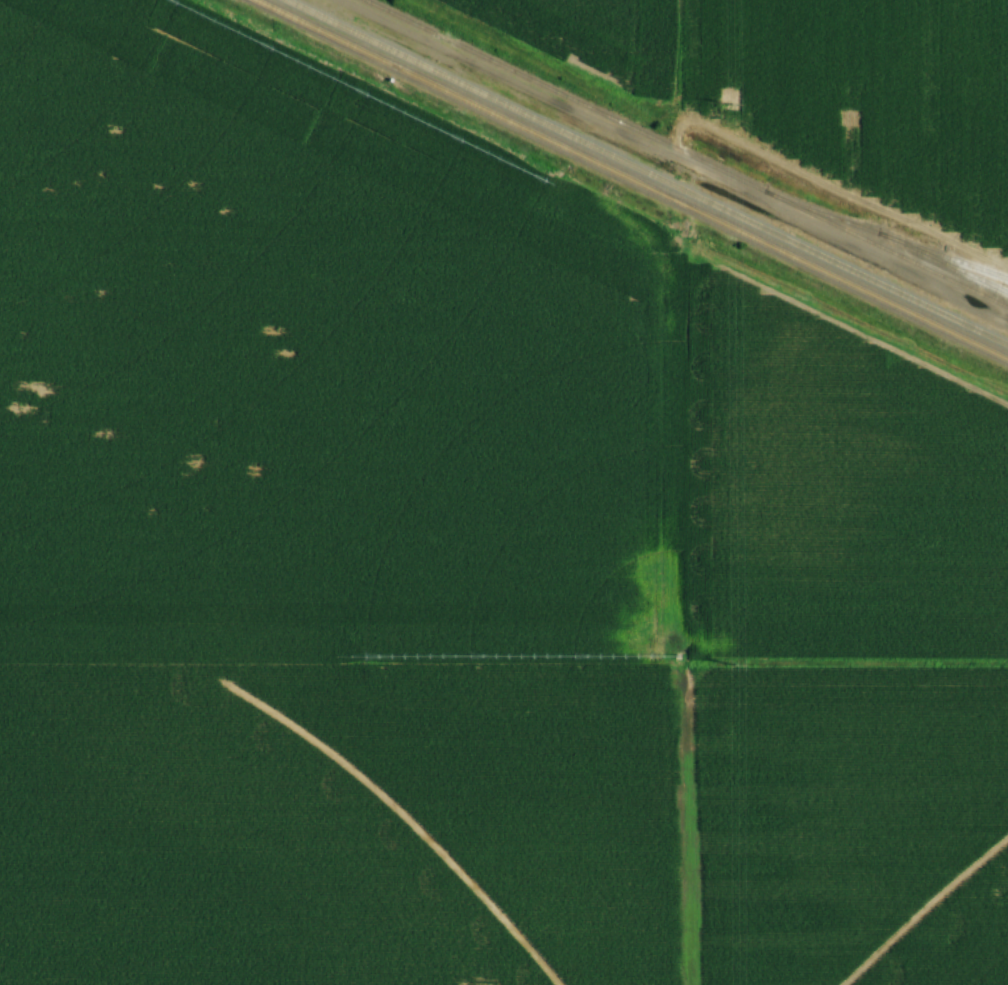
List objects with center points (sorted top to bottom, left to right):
railway: (688, 151)
railway: (647, 172)
railway: (629, 181)

